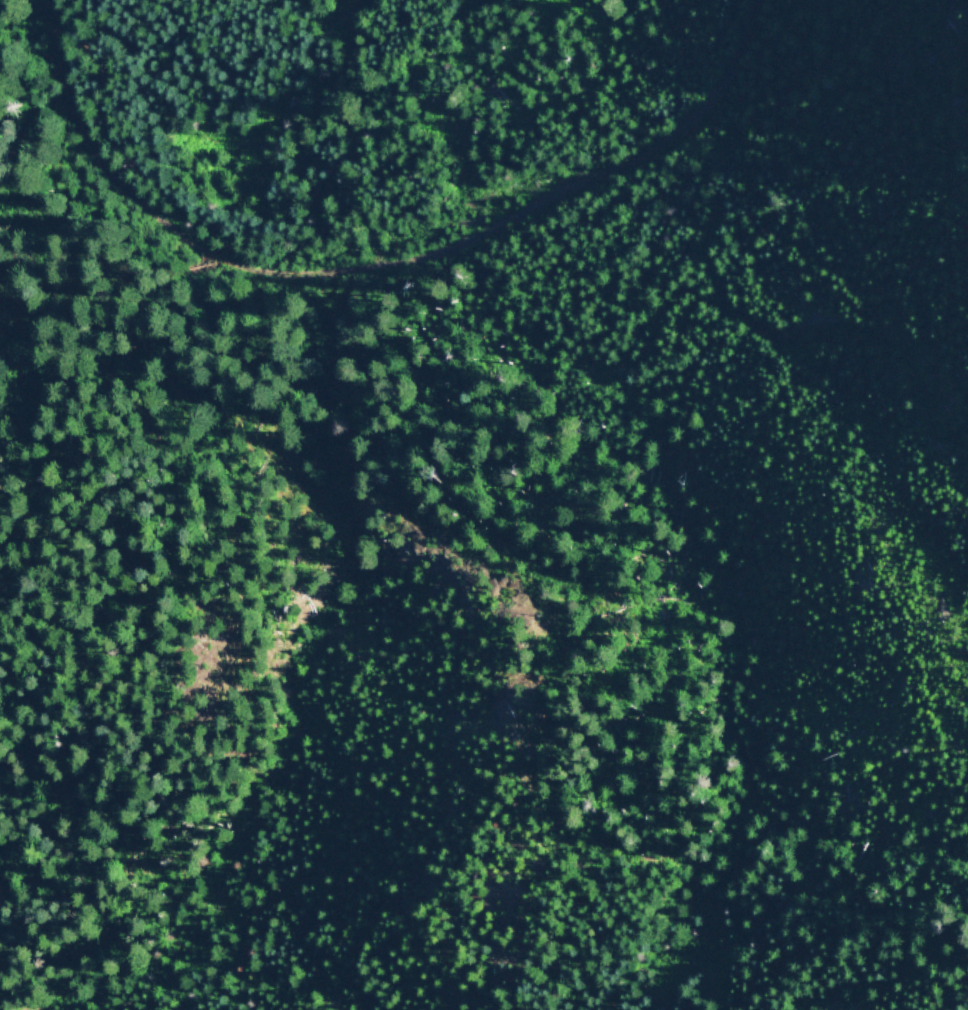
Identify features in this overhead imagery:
road: (380, 264)

